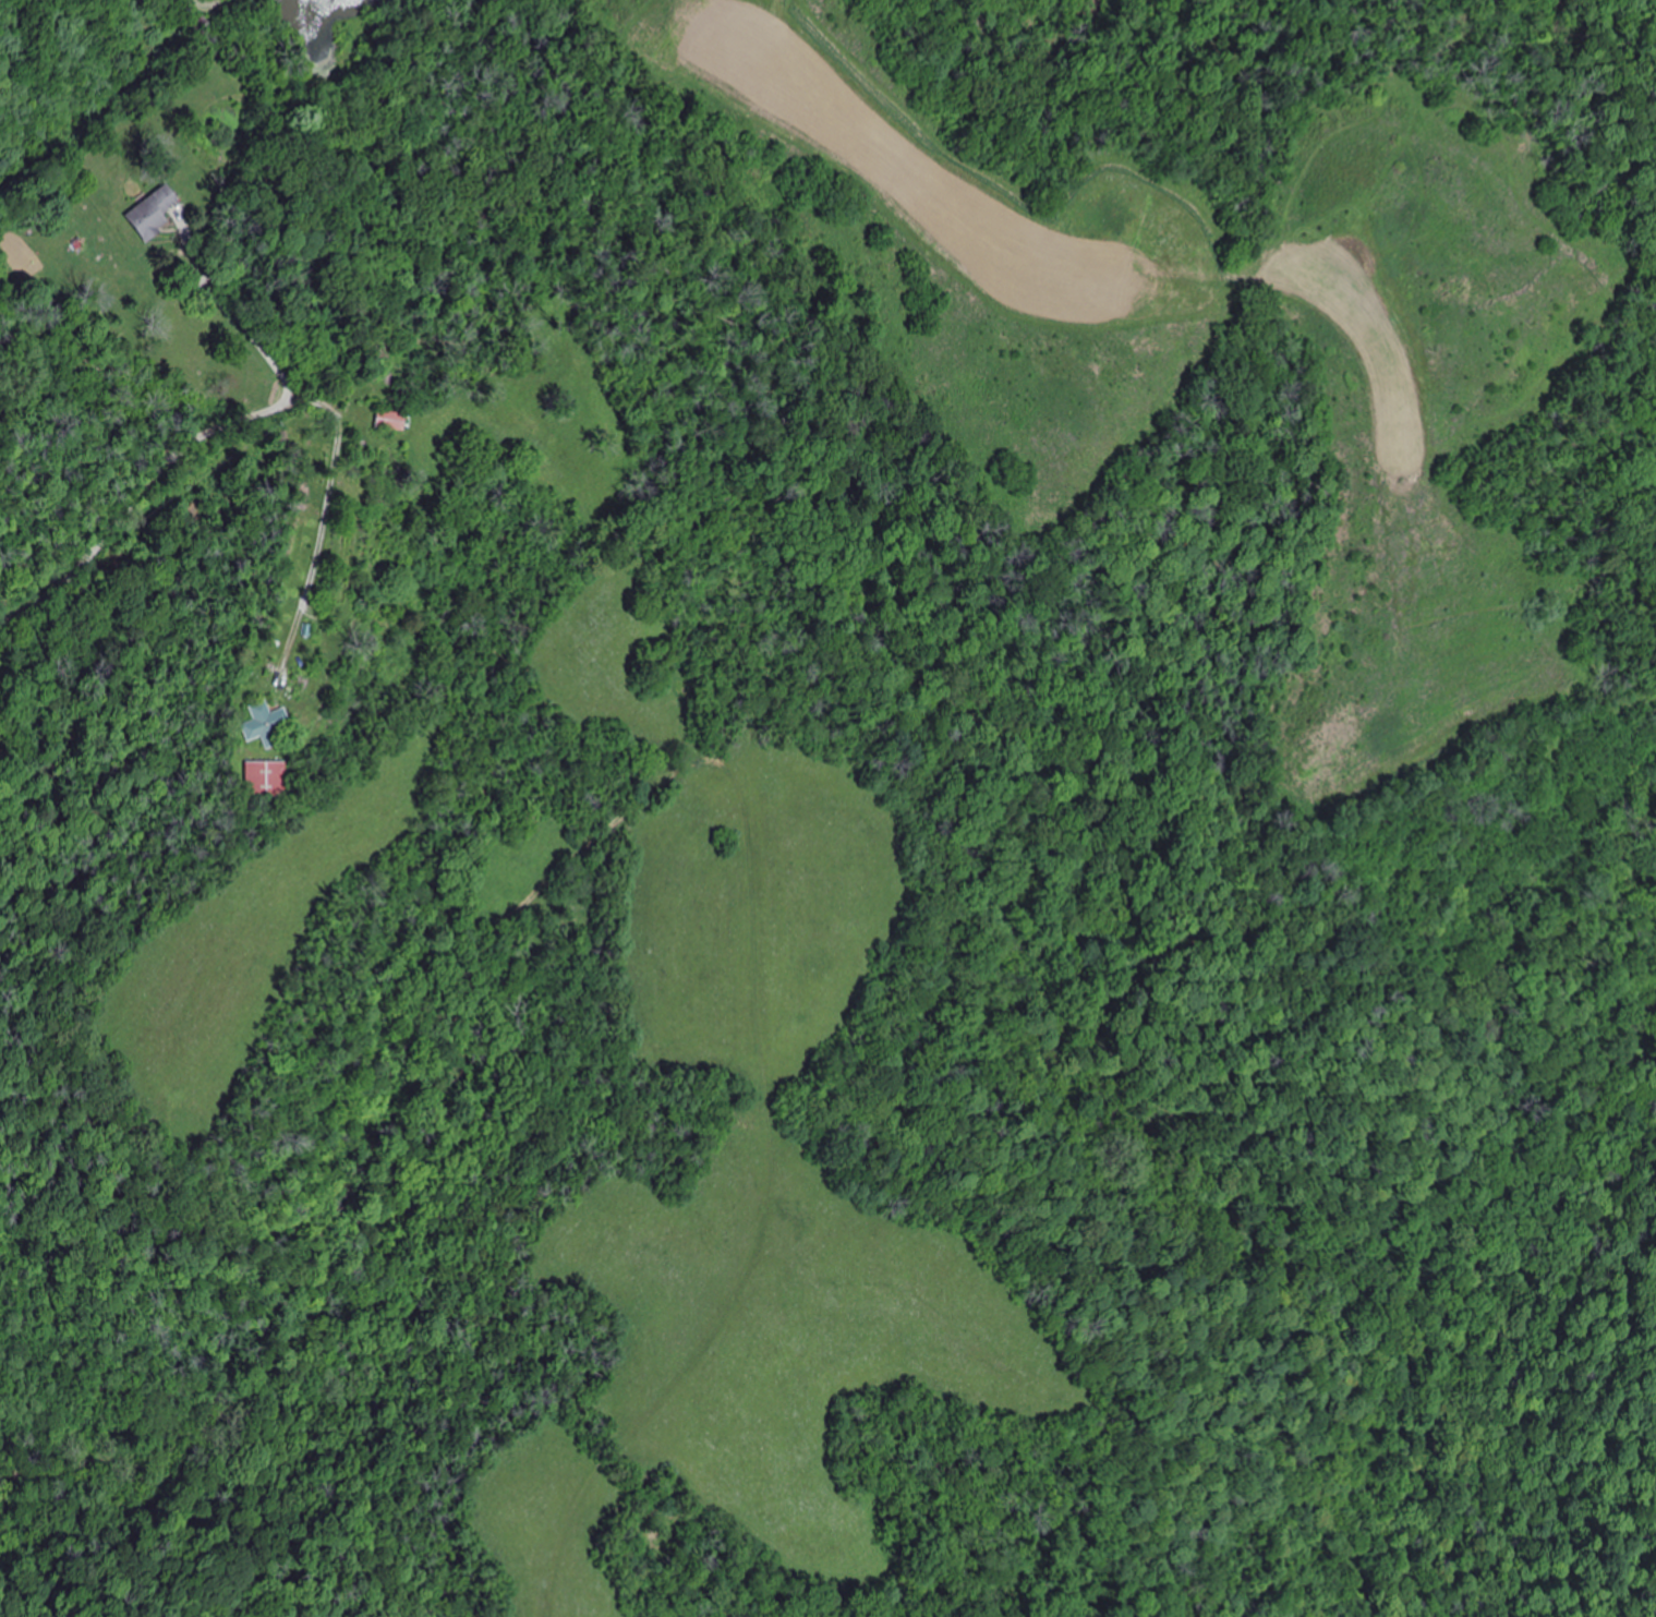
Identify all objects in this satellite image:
building: (153, 214)
building: (392, 420)
building: (265, 727)
building: (266, 780)
road: (471, 1039)

